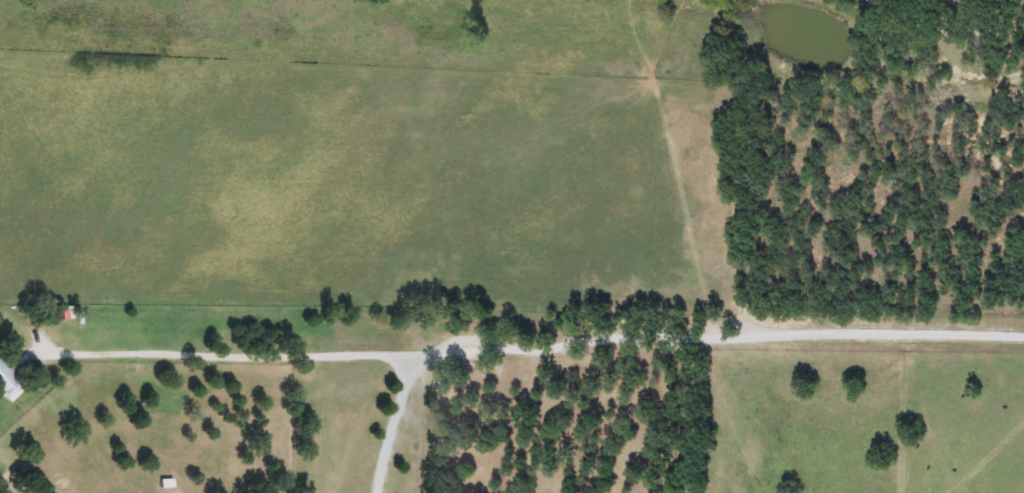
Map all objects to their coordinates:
road: (650, 344)
road: (227, 363)
building: (10, 383)

